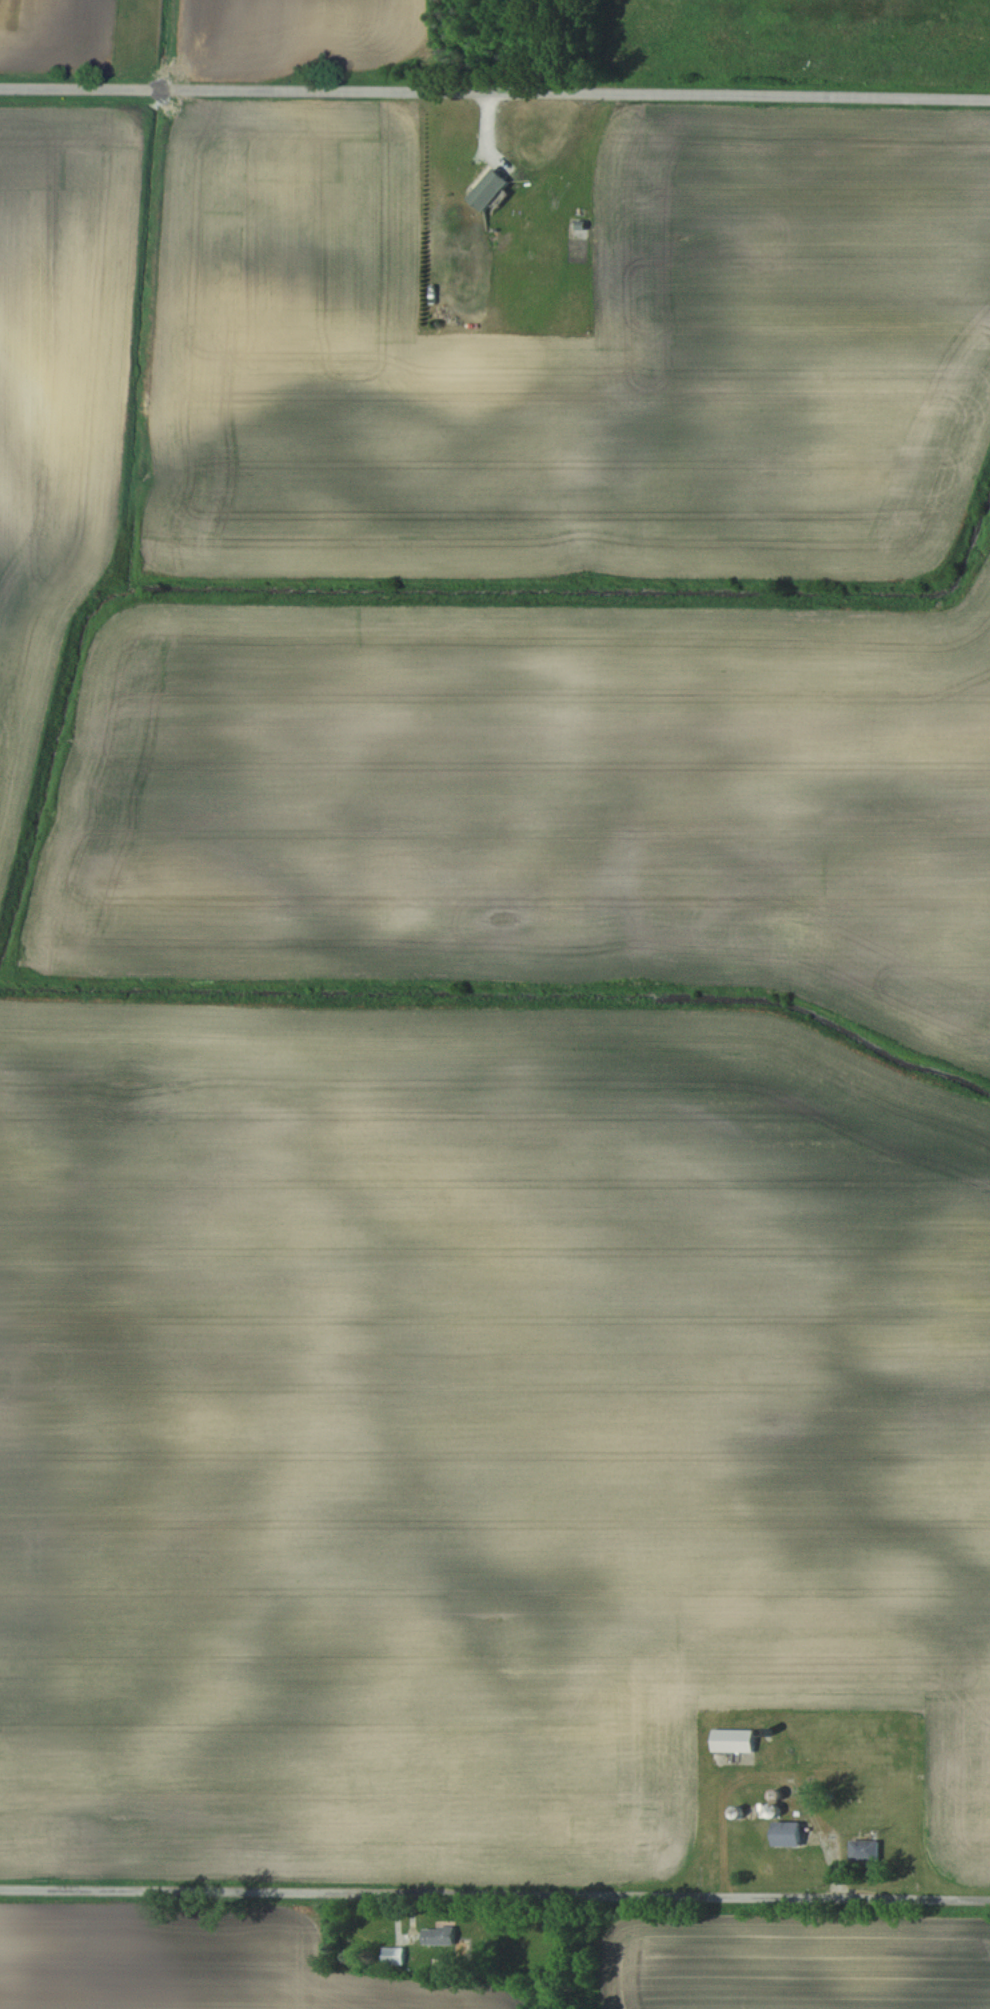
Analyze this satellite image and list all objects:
airport runway: (126, 29)
road: (495, 97)
building: (493, 189)
building: (736, 1741)
building: (792, 1834)
building: (868, 1851)
road: (495, 1892)
building: (440, 1936)
building: (393, 1956)

